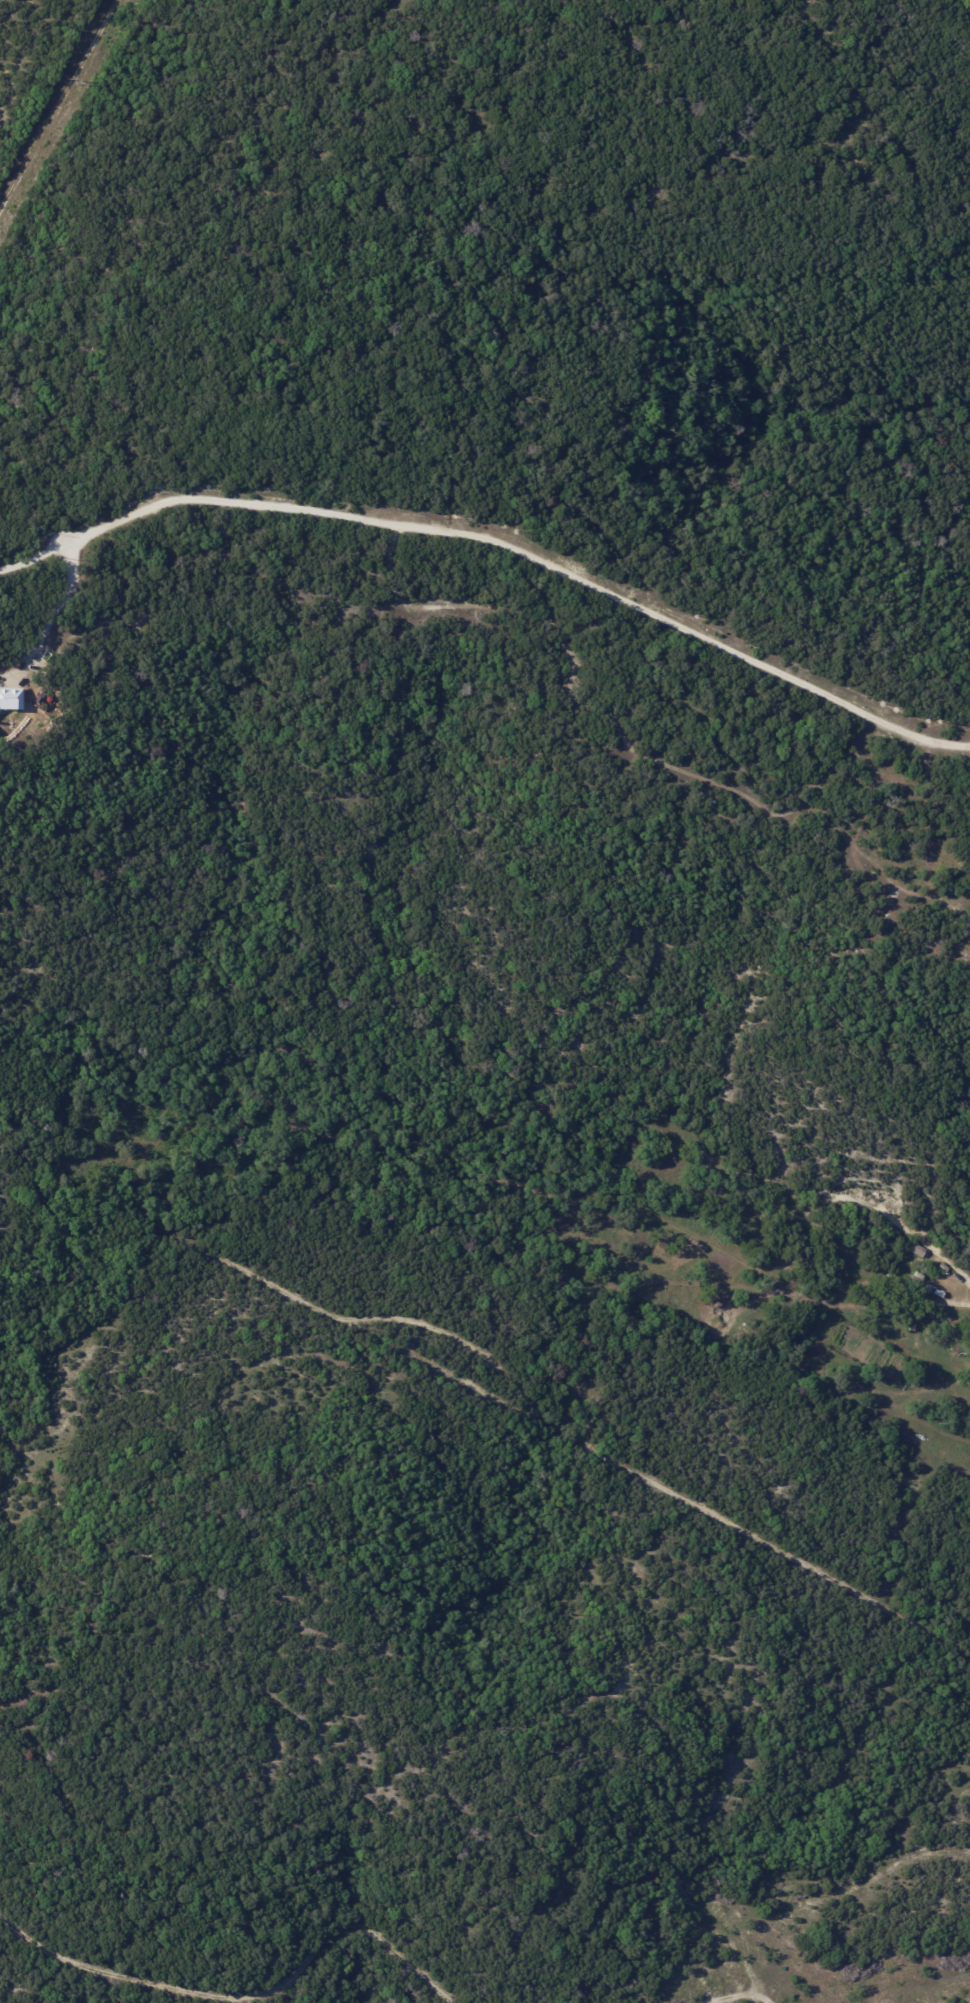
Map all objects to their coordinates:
power tower: (76, 78)
road: (499, 541)
road: (52, 617)
building: (968, 925)
building: (919, 1250)
building: (943, 1267)
building: (919, 1276)
building: (912, 1327)

